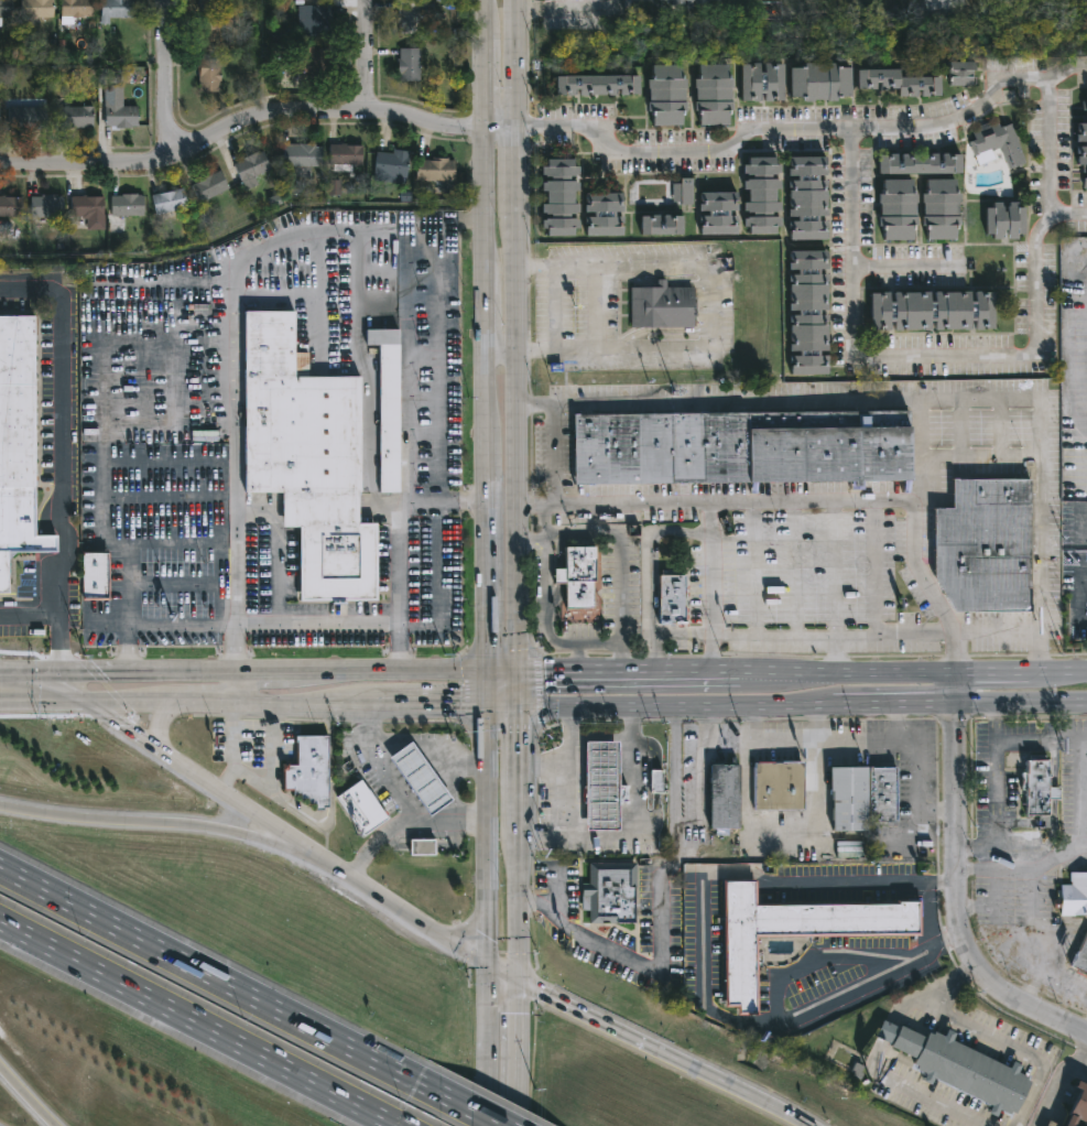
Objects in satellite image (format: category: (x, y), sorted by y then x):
building: (671, 2)
building: (696, 2)
building: (206, 4)
building: (685, 4)
building: (6, 8)
building: (34, 8)
building: (113, 9)
building: (73, 11)
road: (481, 11)
road: (567, 12)
building: (407, 17)
building: (318, 20)
building: (207, 35)
road: (365, 57)
building: (407, 64)
building: (303, 68)
road: (1066, 68)
building: (963, 74)
building: (207, 75)
road: (482, 76)
building: (109, 77)
road: (166, 78)
building: (762, 83)
building: (820, 83)
building: (901, 83)
building: (600, 86)
building: (714, 94)
building: (666, 96)
building: (72, 117)
building: (119, 117)
building: (25, 118)
road: (240, 128)
road: (783, 128)
road: (500, 130)
building: (1083, 133)
building: (997, 143)
building: (343, 155)
building: (300, 158)
building: (1083, 160)
road: (1048, 162)
building: (916, 164)
building: (390, 167)
building: (249, 170)
building: (433, 170)
road: (515, 175)
building: (207, 186)
building: (685, 193)
road: (483, 196)
building: (763, 196)
building: (561, 197)
building: (808, 199)
building: (167, 202)
building: (124, 205)
building: (9, 206)
building: (44, 206)
building: (943, 209)
building: (87, 210)
building: (899, 212)
building: (718, 213)
building: (605, 215)
building: (1007, 220)
building: (664, 227)
road: (246, 259)
road: (613, 266)
road: (905, 267)
road: (714, 304)
road: (483, 306)
building: (663, 306)
building: (934, 310)
building: (809, 315)
road: (1067, 344)
road: (616, 348)
road: (499, 351)
road: (903, 354)
road: (406, 377)
road: (483, 386)
road: (915, 400)
building: (384, 408)
building: (18, 444)
building: (743, 446)
road: (551, 452)
road: (59, 457)
road: (949, 457)
building: (307, 461)
road: (916, 480)
road: (806, 500)
road: (442, 508)
road: (515, 512)
building: (988, 544)
road: (485, 546)
road: (754, 567)
road: (794, 567)
road: (874, 569)
road: (646, 571)
building: (579, 576)
building: (95, 577)
road: (175, 585)
road: (709, 586)
road: (833, 587)
road: (400, 591)
building: (674, 599)
road: (1078, 603)
road: (159, 624)
road: (319, 624)
road: (845, 636)
road: (608, 641)
road: (58, 643)
road: (576, 658)
road: (617, 658)
road: (188, 671)
road: (263, 671)
road: (3, 672)
road: (387, 672)
road: (74, 673)
traffic signals: (485, 673)
road: (500, 673)
traffic signals: (515, 673)
road: (3, 674)
traffic signals: (7, 674)
road: (617, 674)
road: (903, 674)
road: (238, 686)
road: (45, 689)
road: (485, 689)
road: (515, 689)
road: (956, 691)
road: (42, 702)
road: (127, 702)
road: (204, 702)
traffic signals: (84, 703)
road: (304, 703)
road: (427, 704)
traffic signals: (485, 705)
road: (500, 705)
traffic signals: (515, 705)
road: (674, 705)
road: (894, 706)
road: (1021, 707)
road: (157, 724)
road: (818, 724)
road: (126, 729)
road: (600, 737)
road: (515, 741)
road: (811, 741)
road: (1023, 743)
road: (430, 744)
road: (431, 760)
road: (409, 764)
road: (448, 764)
road: (542, 764)
road: (378, 765)
road: (1053, 765)
road: (436, 768)
road: (566, 769)
building: (306, 770)
road: (392, 775)
building: (419, 776)
gas station: (419, 776)
road: (442, 776)
road: (916, 778)
road: (996, 778)
road: (420, 779)
building: (656, 781)
building: (600, 784)
gas station: (600, 784)
building: (775, 784)
building: (1036, 786)
road: (517, 788)
road: (403, 791)
road: (455, 791)
road: (1053, 792)
road: (431, 794)
building: (721, 794)
building: (865, 797)
road: (413, 806)
road: (242, 808)
building: (360, 811)
road: (517, 815)
road: (122, 820)
road: (403, 821)
road: (634, 829)
building: (428, 835)
gas station: (428, 835)
road: (486, 835)
road: (1079, 840)
road: (1068, 842)
road: (1046, 846)
road: (281, 847)
building: (422, 847)
road: (978, 849)
building: (608, 892)
building: (1074, 896)
road: (994, 903)
road: (960, 906)
road: (515, 907)
road: (401, 913)
road: (660, 919)
building: (793, 932)
road: (702, 953)
building: (1080, 955)
road: (816, 962)
traffic signals: (487, 966)
road: (501, 973)
road: (220, 979)
road: (949, 979)
traffic signals: (515, 981)
road: (198, 1024)
road: (604, 1024)
road: (517, 1042)
road: (1083, 1044)
road: (487, 1046)
road: (1011, 1047)
building: (957, 1067)
road: (1078, 1072)
road: (891, 1078)
road: (1058, 1087)
road: (741, 1091)
road: (26, 1097)
building: (1077, 1105)
road: (472, 1109)
road: (519, 1115)
road: (800, 1120)
building: (1051, 1124)

